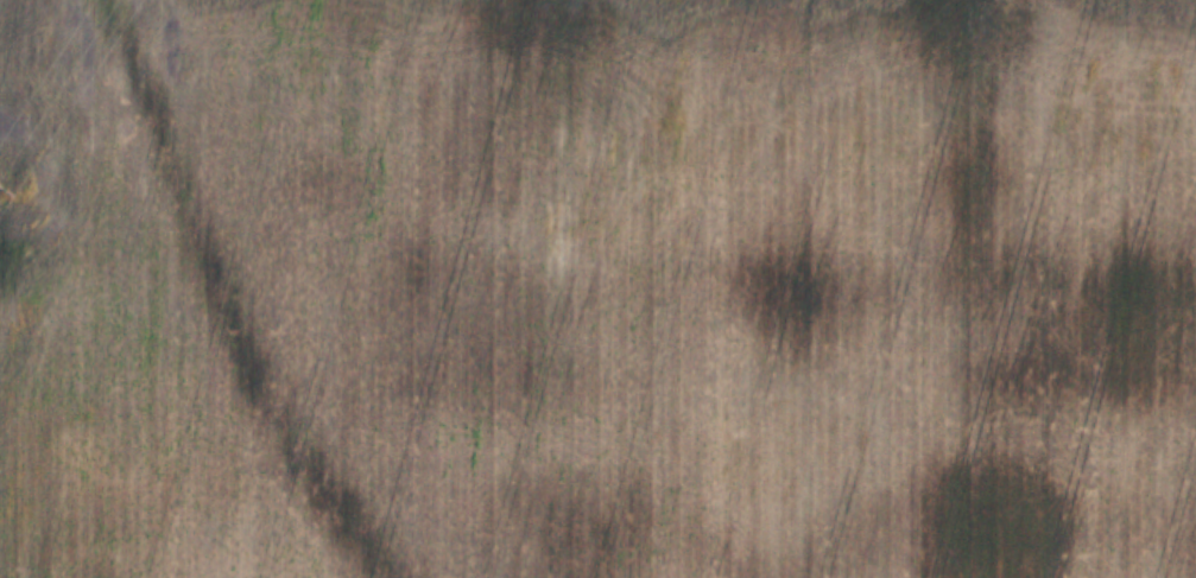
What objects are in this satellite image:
crop: (597, 288)

